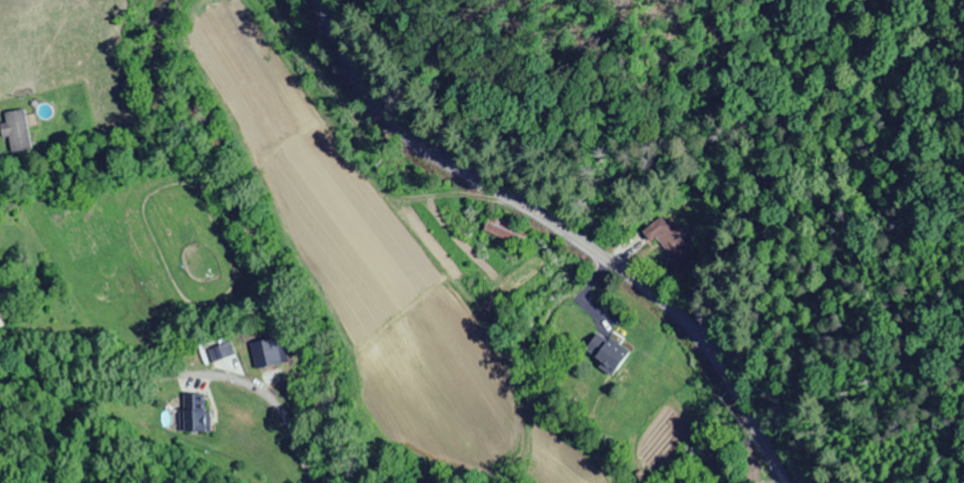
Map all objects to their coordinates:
building: (20, 131)
road: (560, 228)
building: (502, 229)
building: (667, 239)
building: (3, 305)
building: (270, 350)
building: (603, 351)
building: (193, 413)
building: (749, 464)
building: (682, 478)

